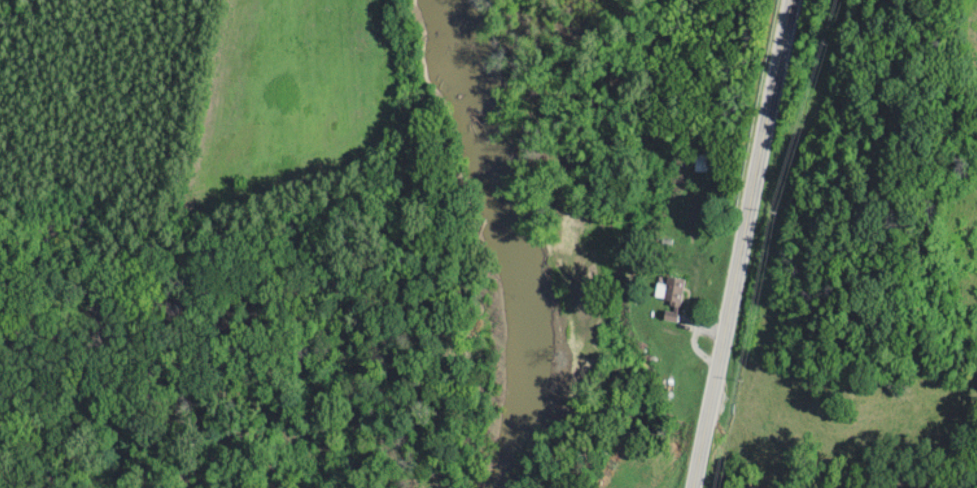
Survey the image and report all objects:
building: (704, 162)
road: (741, 243)
building: (675, 299)

